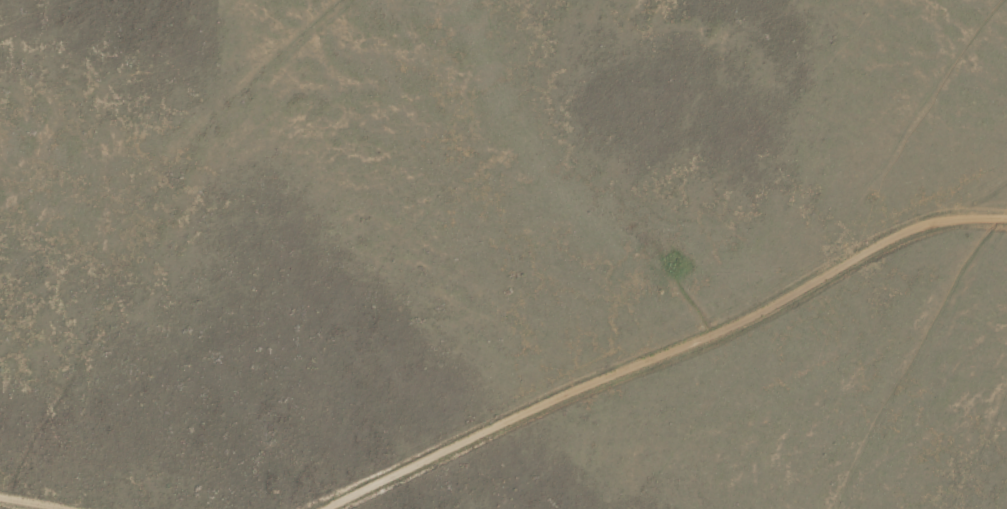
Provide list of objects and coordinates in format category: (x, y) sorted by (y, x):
road: (611, 341)
road: (66, 496)

